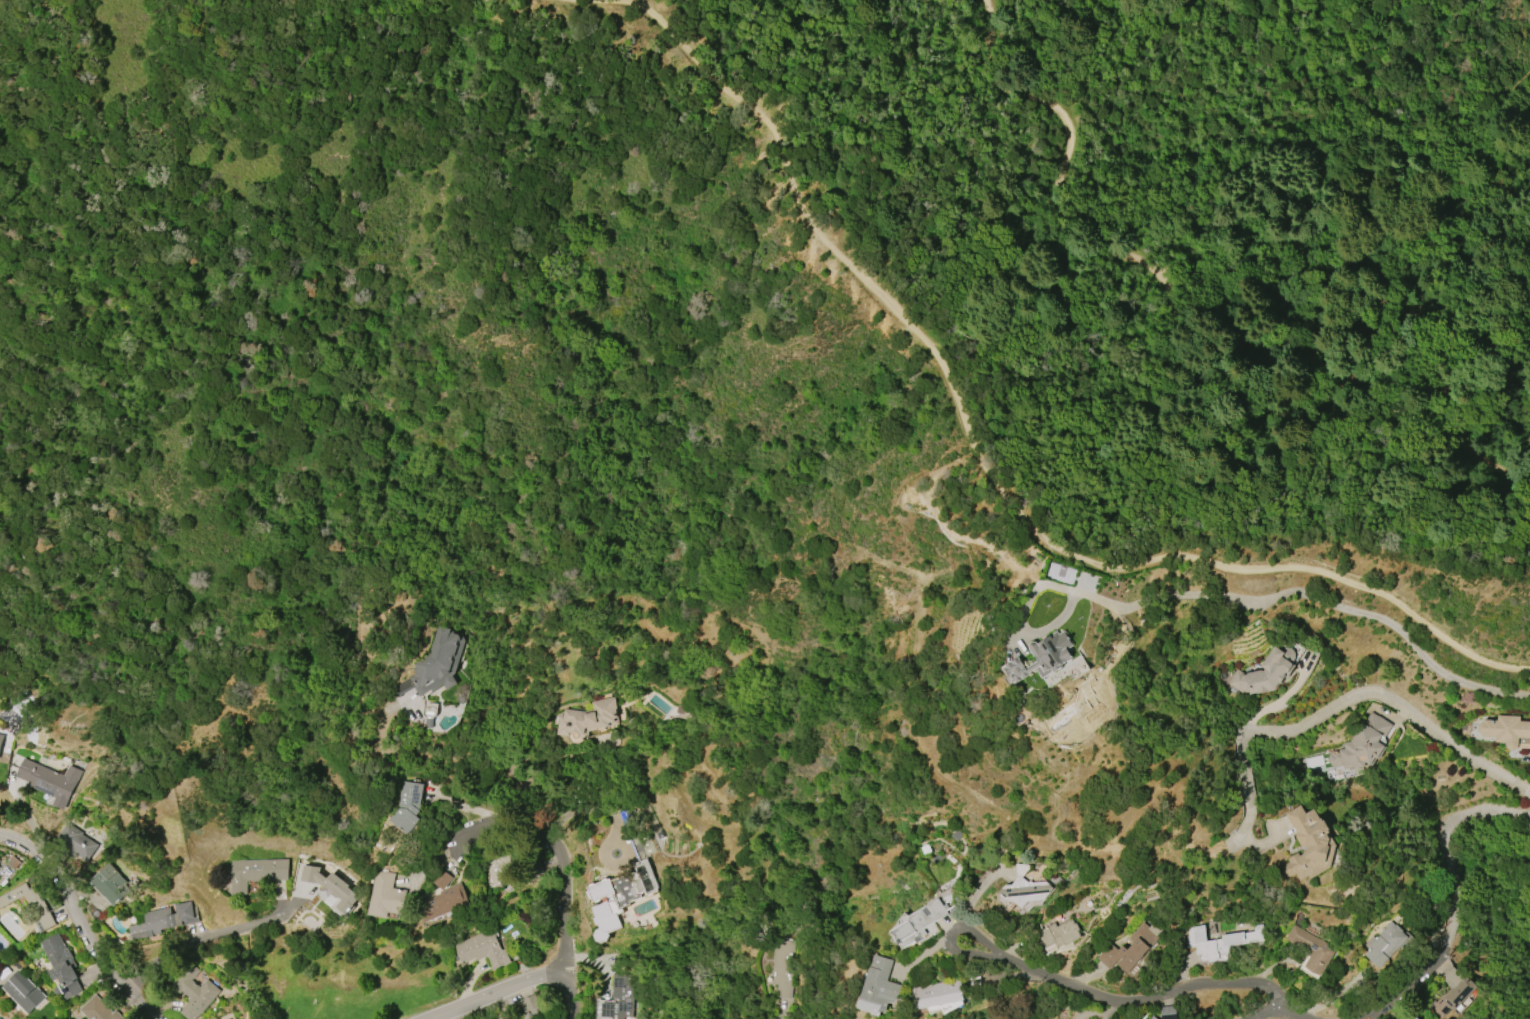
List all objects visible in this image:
road: (1176, 325)
road: (988, 466)
road: (1303, 594)
building: (1043, 656)
building: (438, 662)
building: (1263, 673)
road: (1393, 704)
building: (587, 720)
building: (1507, 731)
building: (1, 740)
building: (1361, 744)
building: (50, 781)
road: (1249, 793)
building: (407, 805)
road: (490, 817)
building: (76, 842)
building: (1309, 844)
road: (554, 850)
building: (507, 863)
building: (256, 872)
building: (443, 877)
building: (110, 884)
building: (330, 889)
building: (1026, 891)
building: (386, 894)
road: (1452, 894)
building: (619, 897)
building: (442, 902)
building: (30, 904)
road: (82, 920)
building: (163, 920)
building: (922, 921)
building: (1059, 933)
road: (200, 938)
building: (1218, 940)
building: (1384, 944)
building: (1131, 947)
building: (482, 949)
building: (1311, 949)
building: (61, 963)
building: (782, 971)
building: (879, 986)
building: (23, 991)
road: (498, 991)
road: (569, 991)
building: (194, 992)
building: (1452, 992)
building: (936, 994)
building: (620, 998)
road: (1278, 1003)
building: (530, 1004)
road: (1121, 1006)
building: (98, 1010)
building: (1168, 1012)
building: (1409, 1016)
building: (1151, 1017)
building: (532, 1018)

